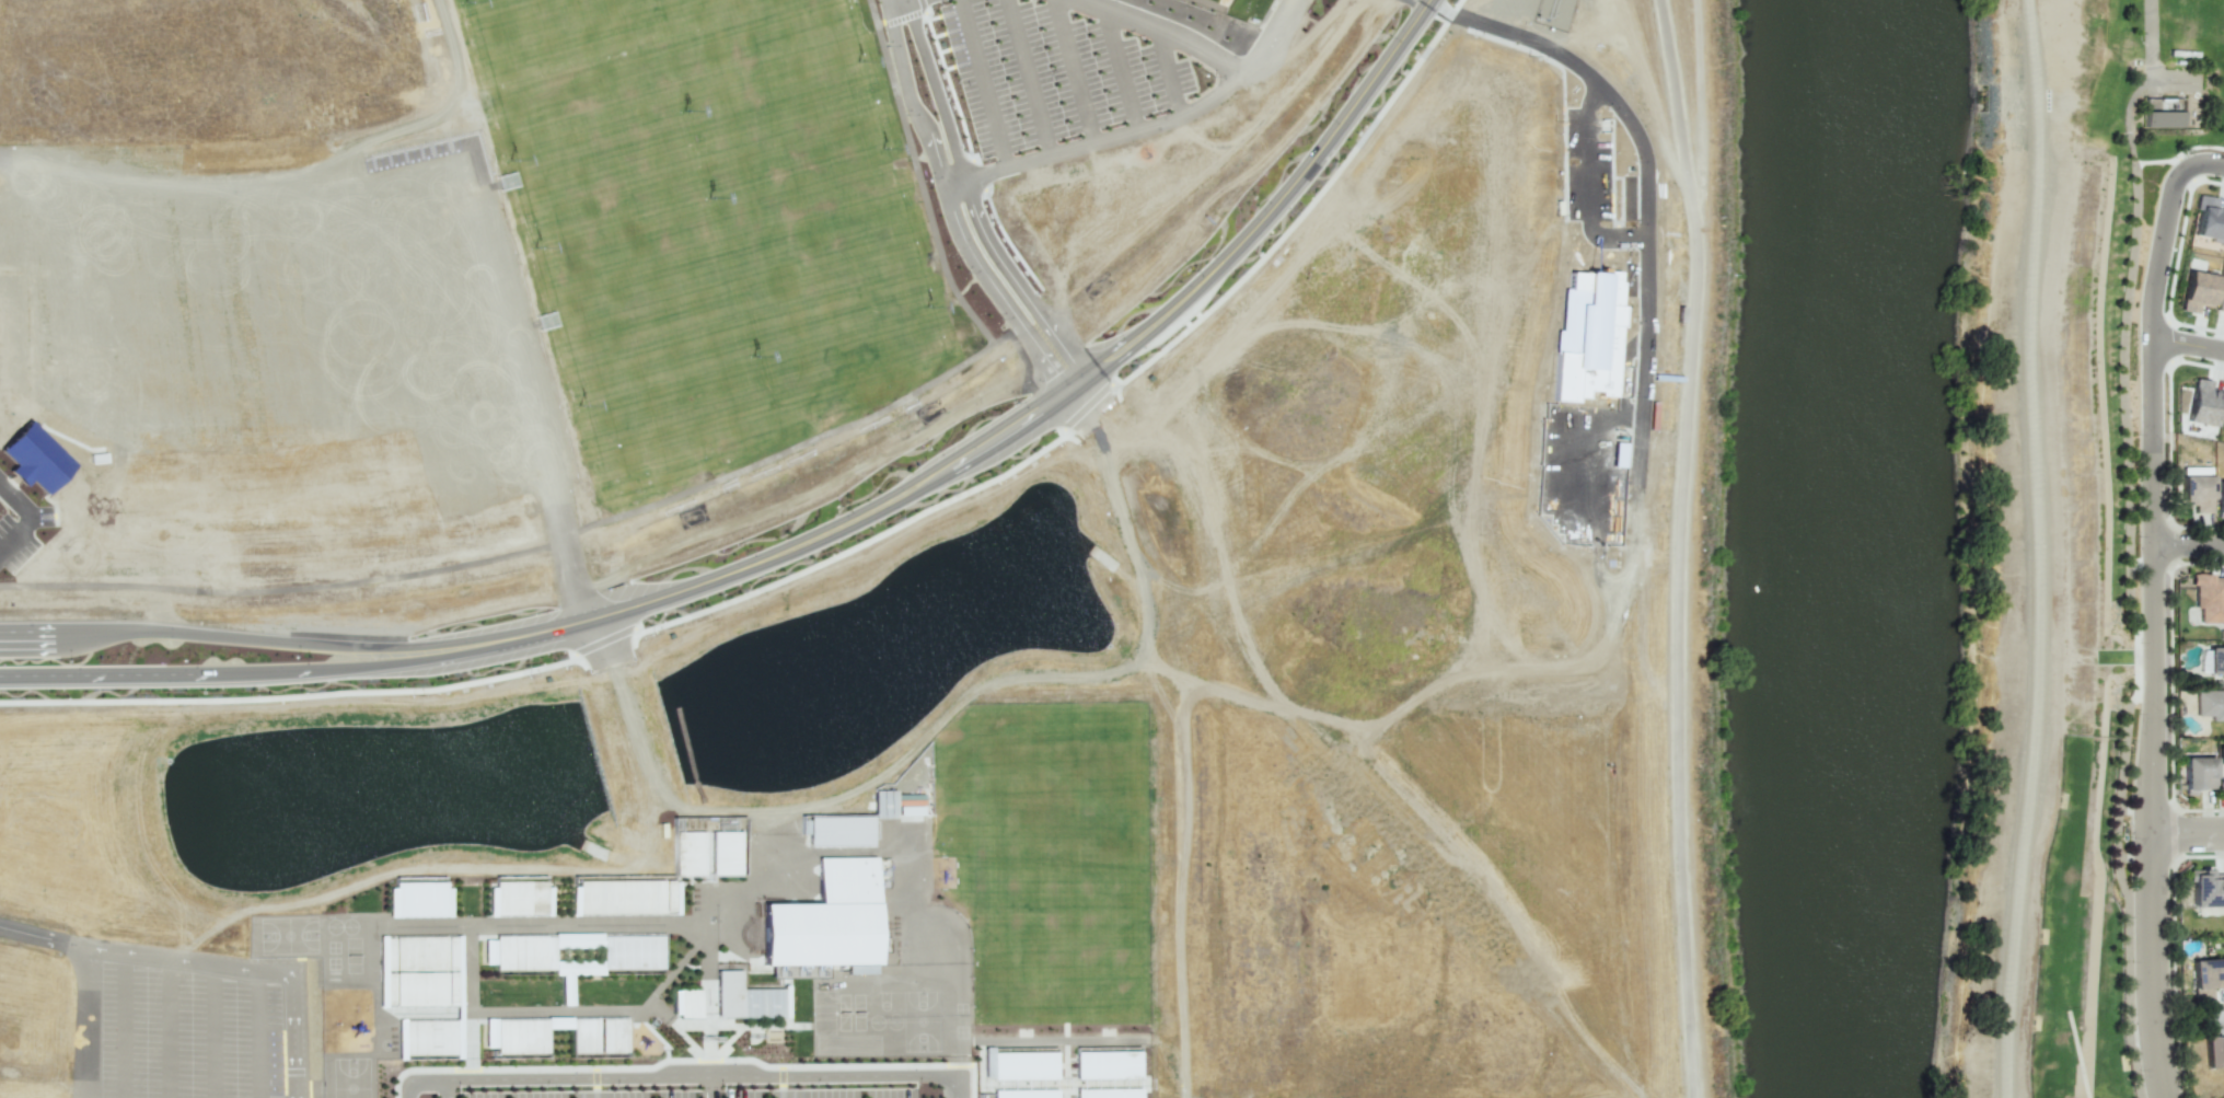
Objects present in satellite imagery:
road: (901, 1)
park: (1223, 2)
road: (895, 14)
road: (2151, 37)
park: (2197, 38)
road: (1076, 70)
road: (1122, 71)
road: (1172, 74)
road: (1026, 77)
road: (981, 83)
road: (1181, 111)
building: (2163, 118)
road: (1676, 127)
road: (4, 160)
road: (2208, 162)
road: (2191, 165)
road: (1591, 182)
road: (970, 197)
road: (1649, 212)
road: (954, 218)
building: (2208, 220)
park: (705, 223)
crop: (2084, 242)
building: (2197, 290)
road: (2152, 296)
building: (2220, 296)
building: (1586, 337)
road: (2188, 343)
building: (2203, 403)
building: (2223, 421)
road: (1003, 423)
building: (34, 458)
building: (2197, 492)
building: (2220, 499)
road: (24, 518)
road: (2188, 541)
river: (1807, 547)
road: (1677, 548)
road: (2035, 548)
road: (564, 559)
building: (2209, 597)
road: (219, 634)
building: (2215, 660)
road: (219, 675)
building: (2210, 704)
building: (2221, 755)
road: (2152, 766)
building: (2197, 774)
building: (883, 804)
building: (839, 830)
road: (2188, 832)
building: (2206, 888)
park: (1050, 890)
building: (625, 894)
building: (520, 897)
building: (418, 899)
building: (825, 917)
building: (523, 950)
building: (634, 950)
road: (204, 962)
building: (418, 969)
building: (862, 969)
building: (2205, 978)
building: (743, 996)
building: (687, 1003)
road: (2212, 1018)
road: (76, 1021)
parking lot: (179, 1028)
building: (598, 1033)
building: (521, 1035)
building: (429, 1038)
building: (2213, 1051)
building: (986, 1062)
building: (1107, 1064)
building: (1023, 1065)
road: (684, 1077)
road: (708, 1087)
road: (444, 1088)
building: (1024, 1094)

